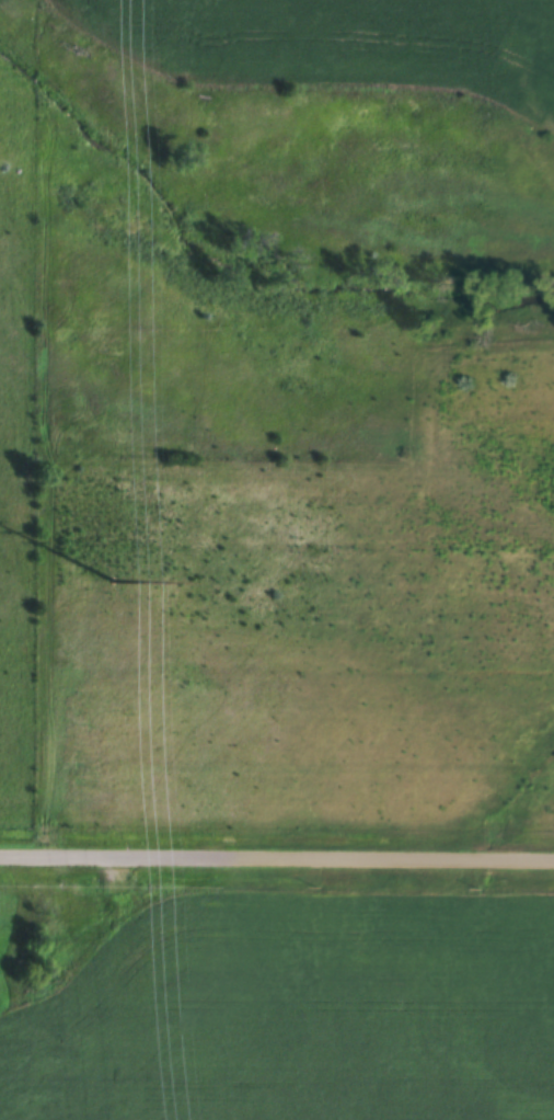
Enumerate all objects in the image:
power tower: (115, 576)
road: (277, 854)

